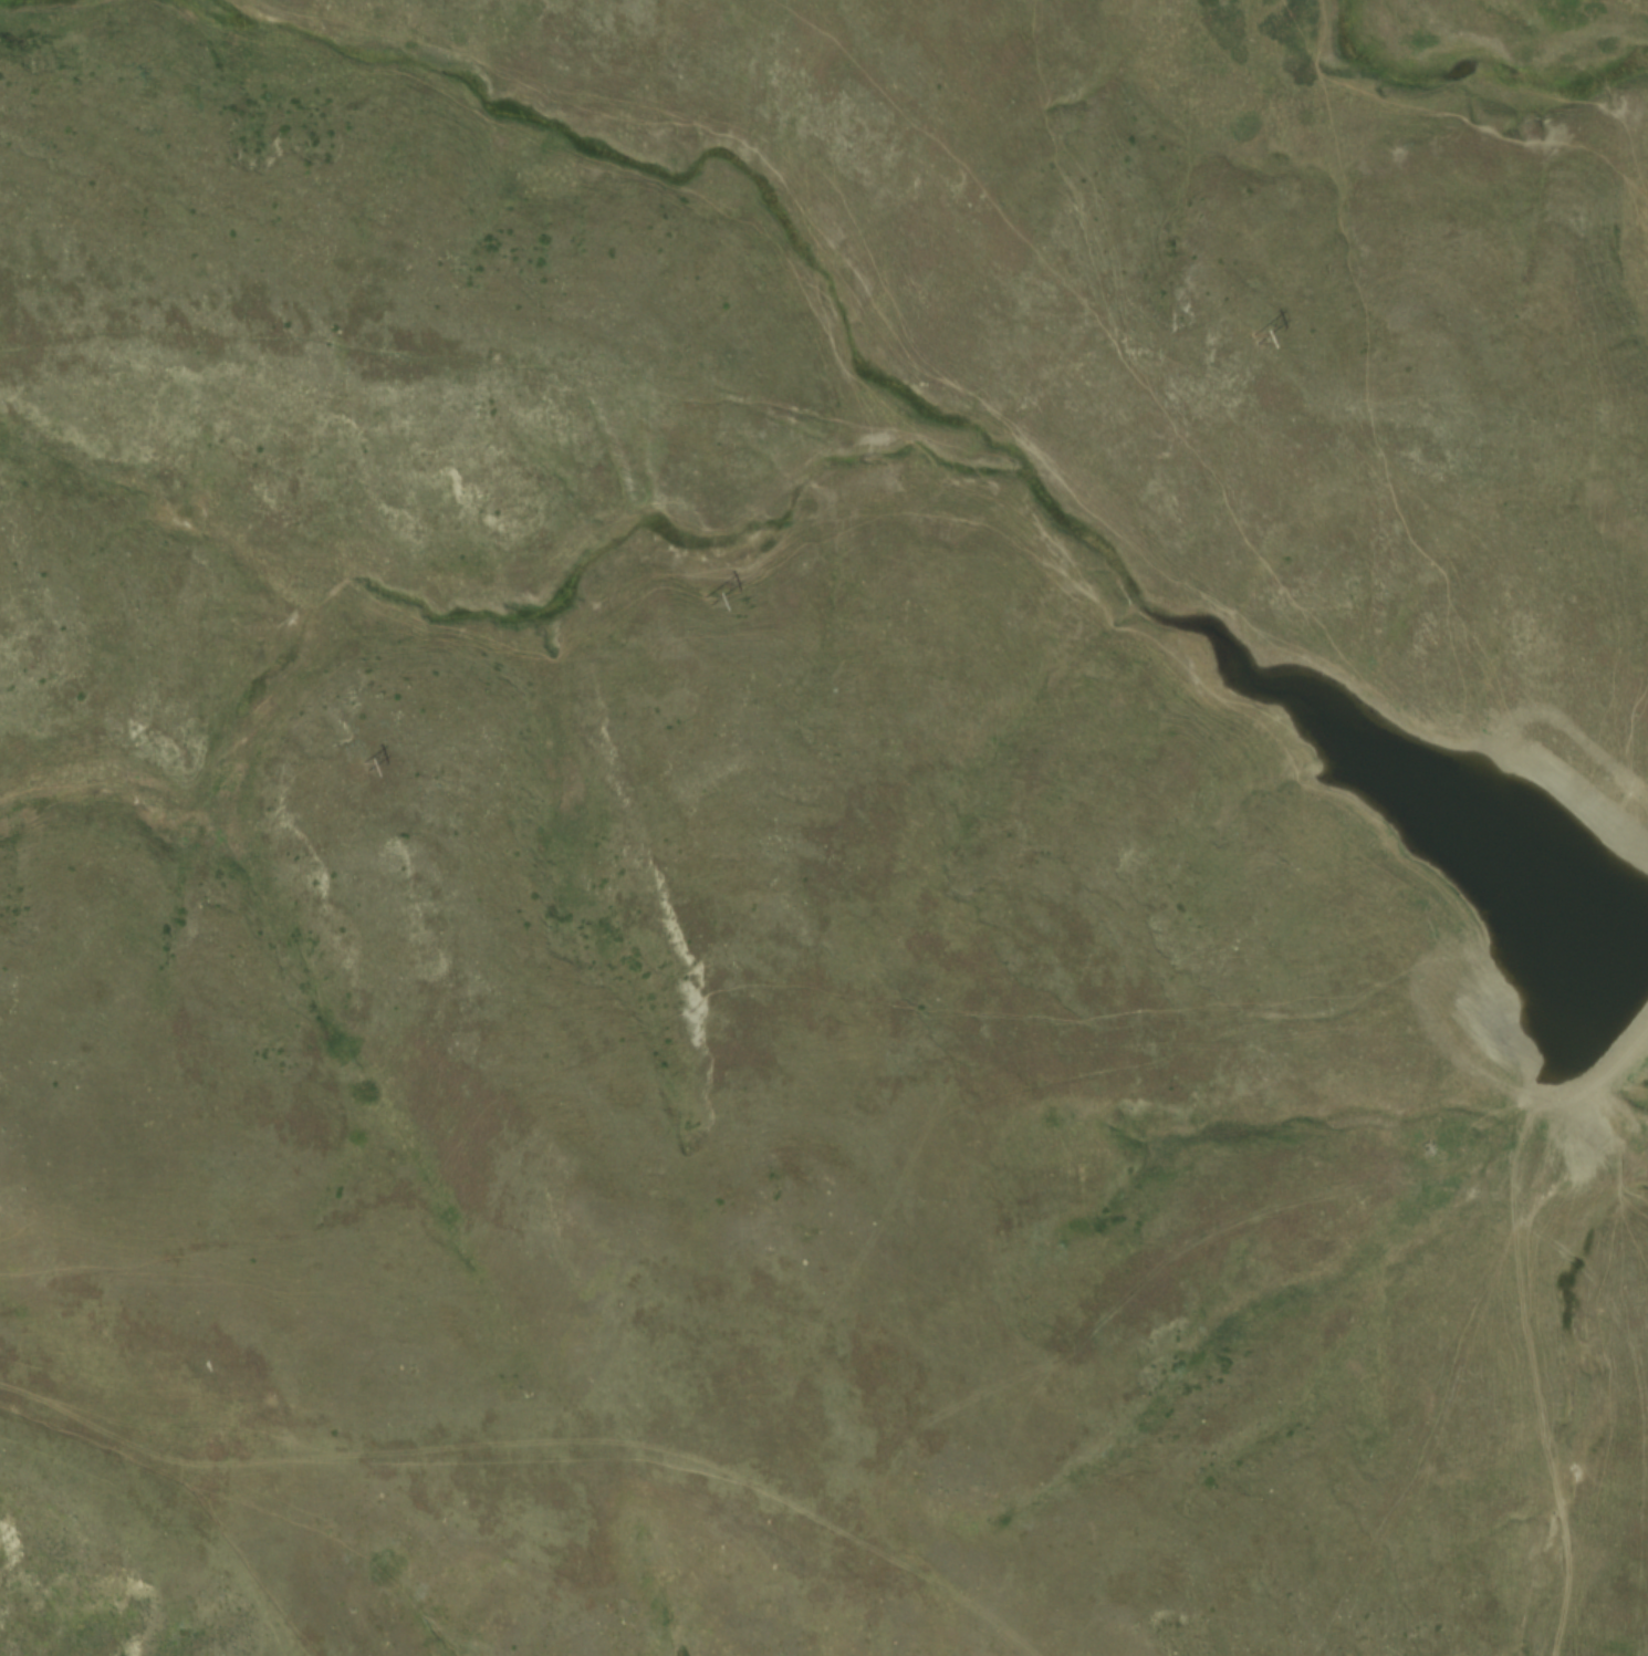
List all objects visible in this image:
power tower: (1253, 342)
power tower: (706, 603)
power tower: (362, 769)

